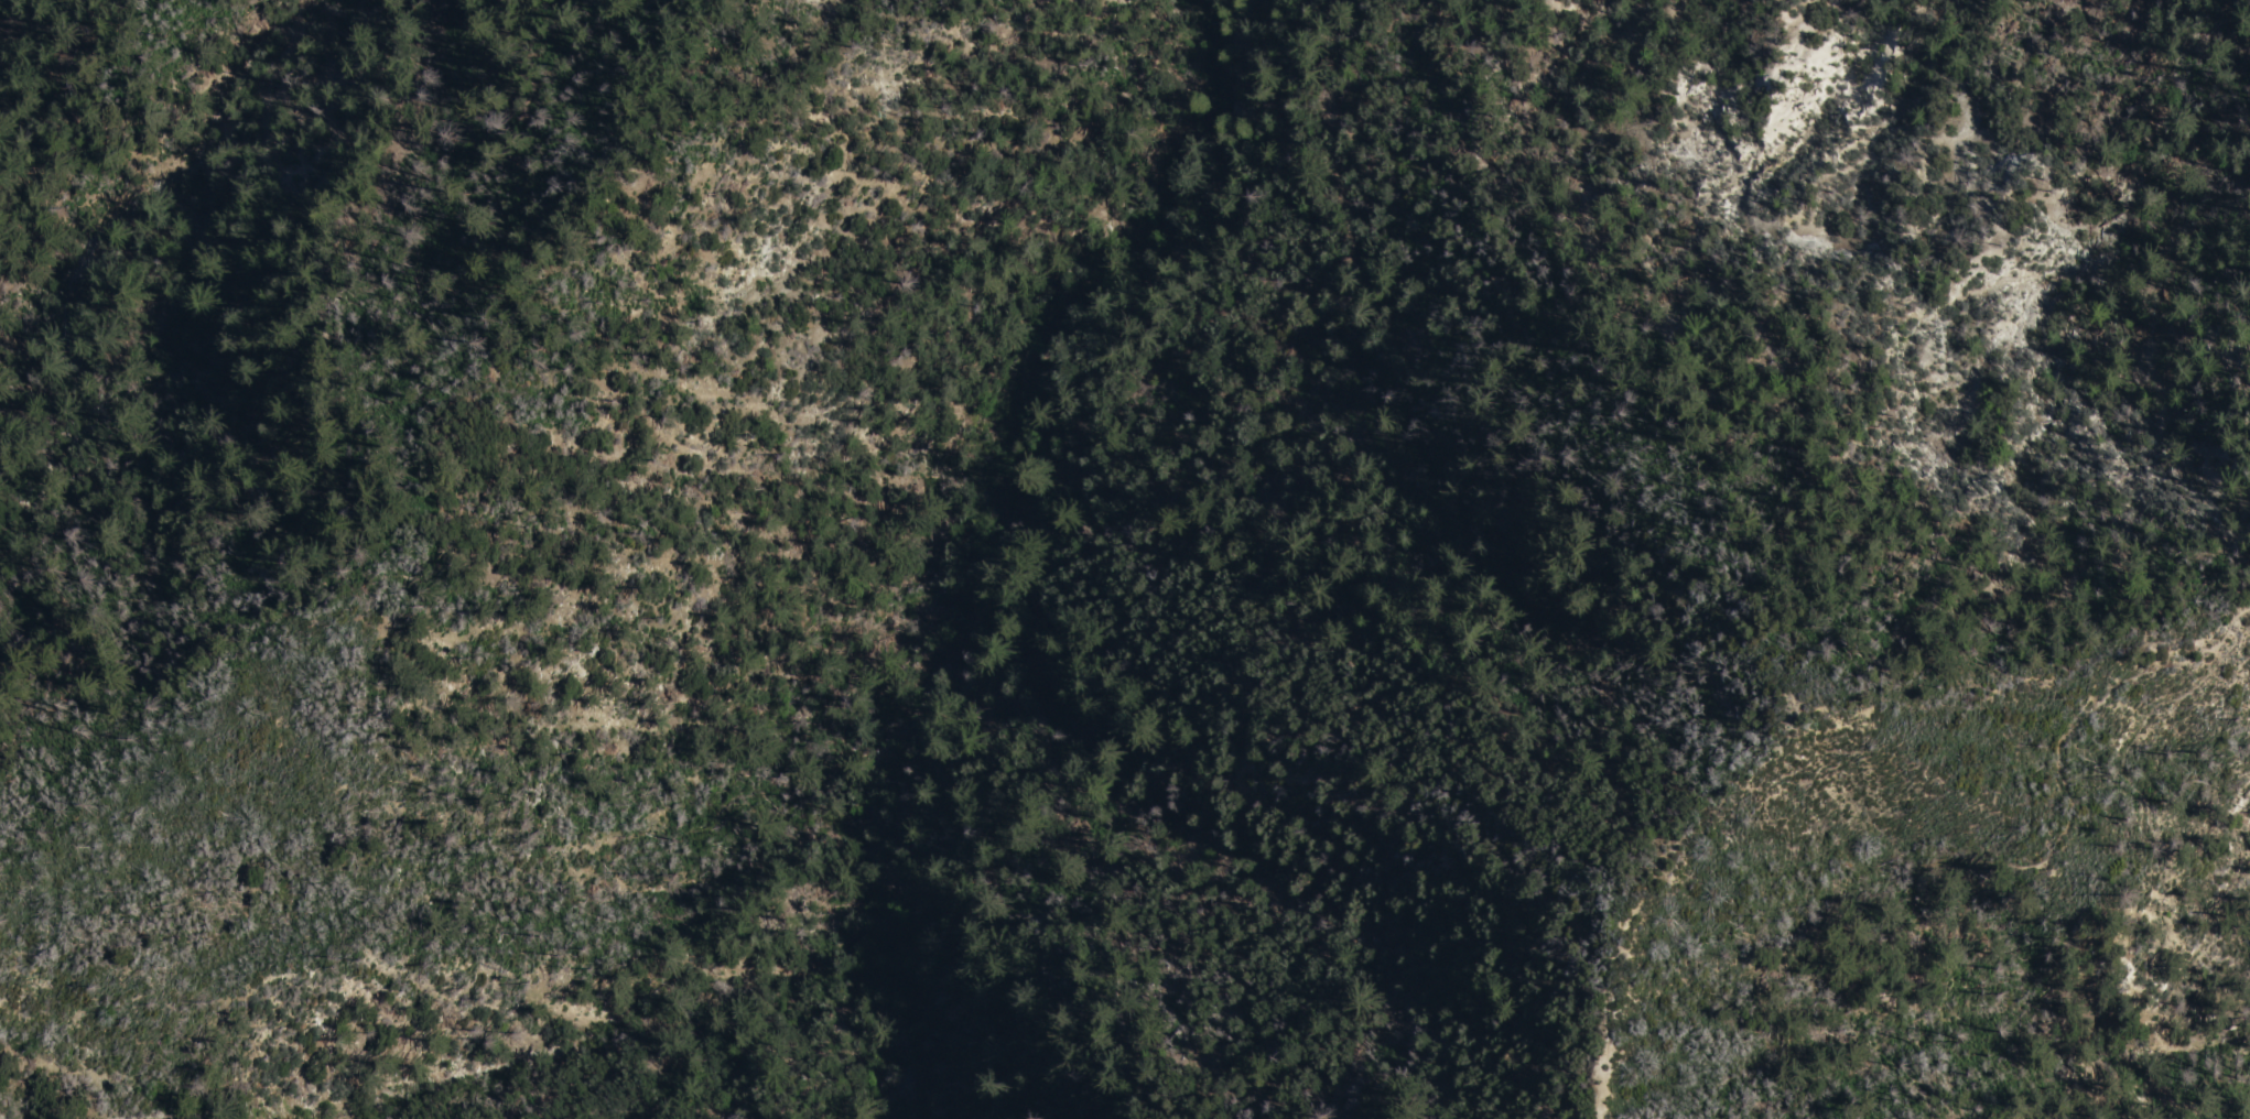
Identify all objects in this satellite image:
road: (2226, 640)

